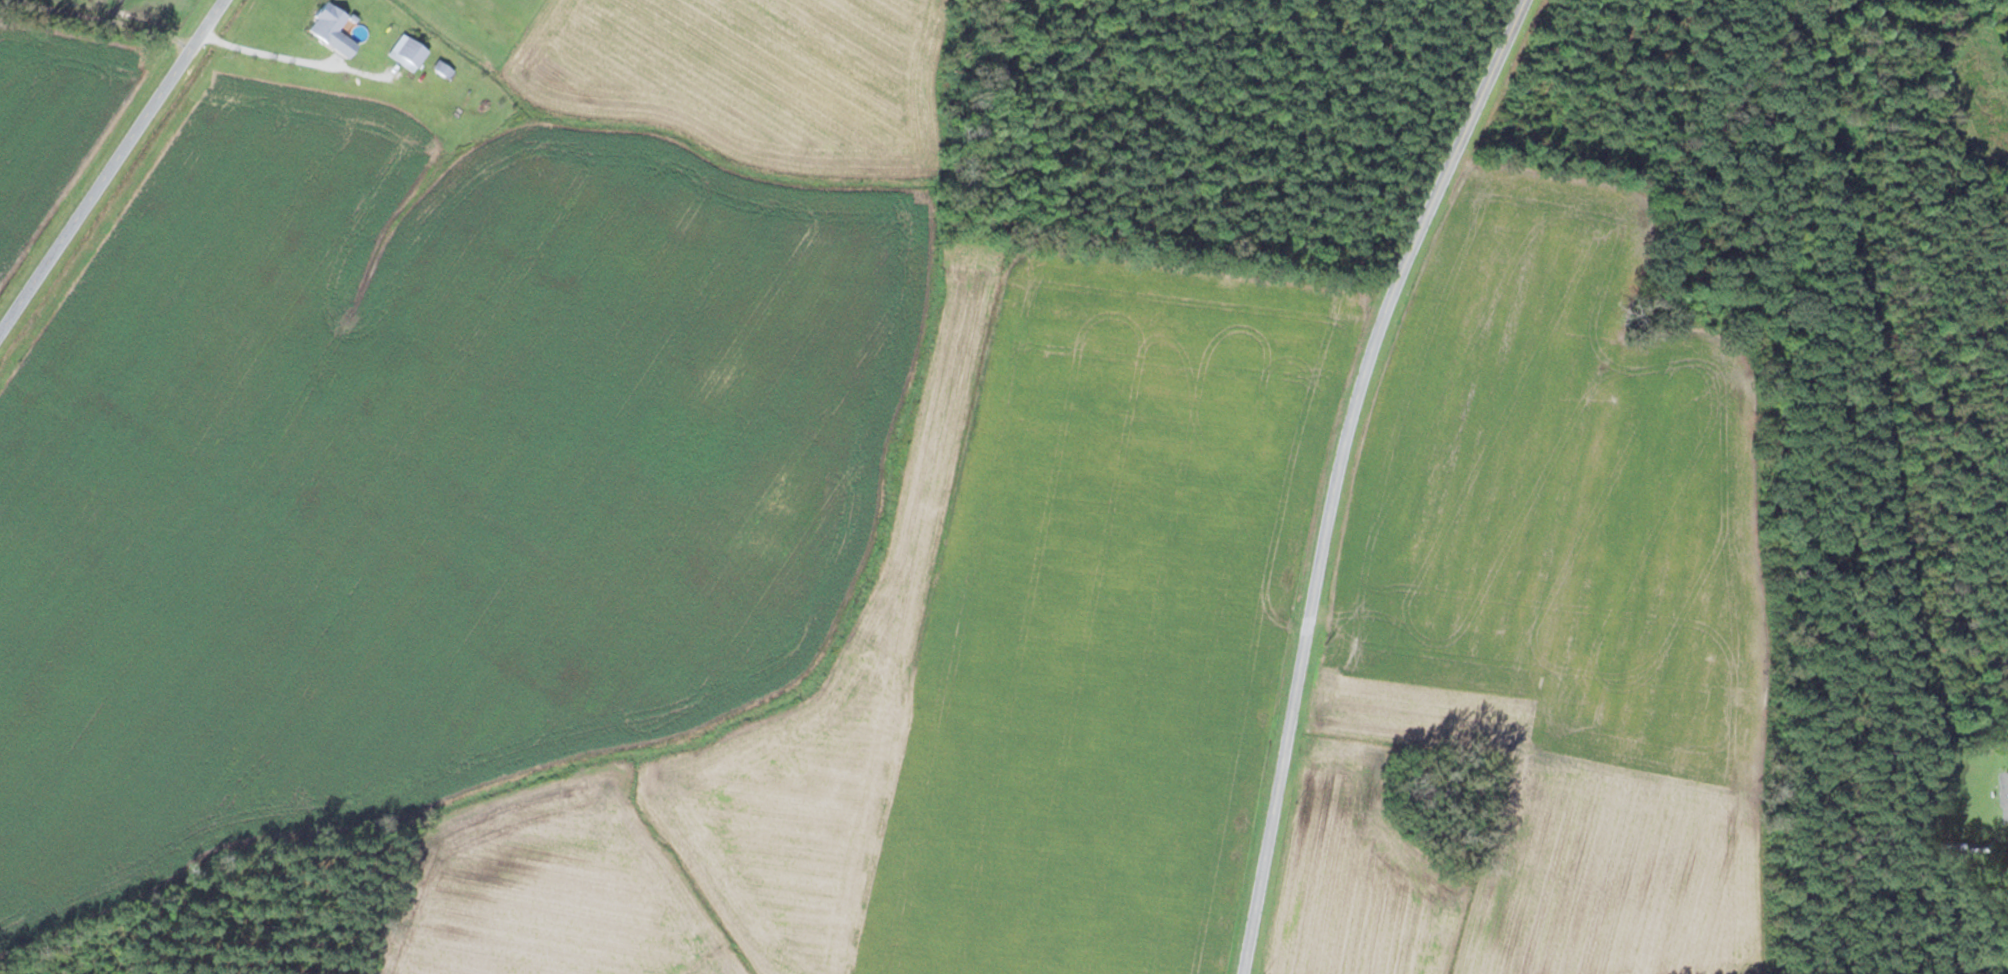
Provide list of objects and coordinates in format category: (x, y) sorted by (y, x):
building: (88, 2)
building: (324, 23)
building: (409, 53)
road: (115, 171)
road: (1342, 473)
building: (2005, 797)
road: (1997, 832)

